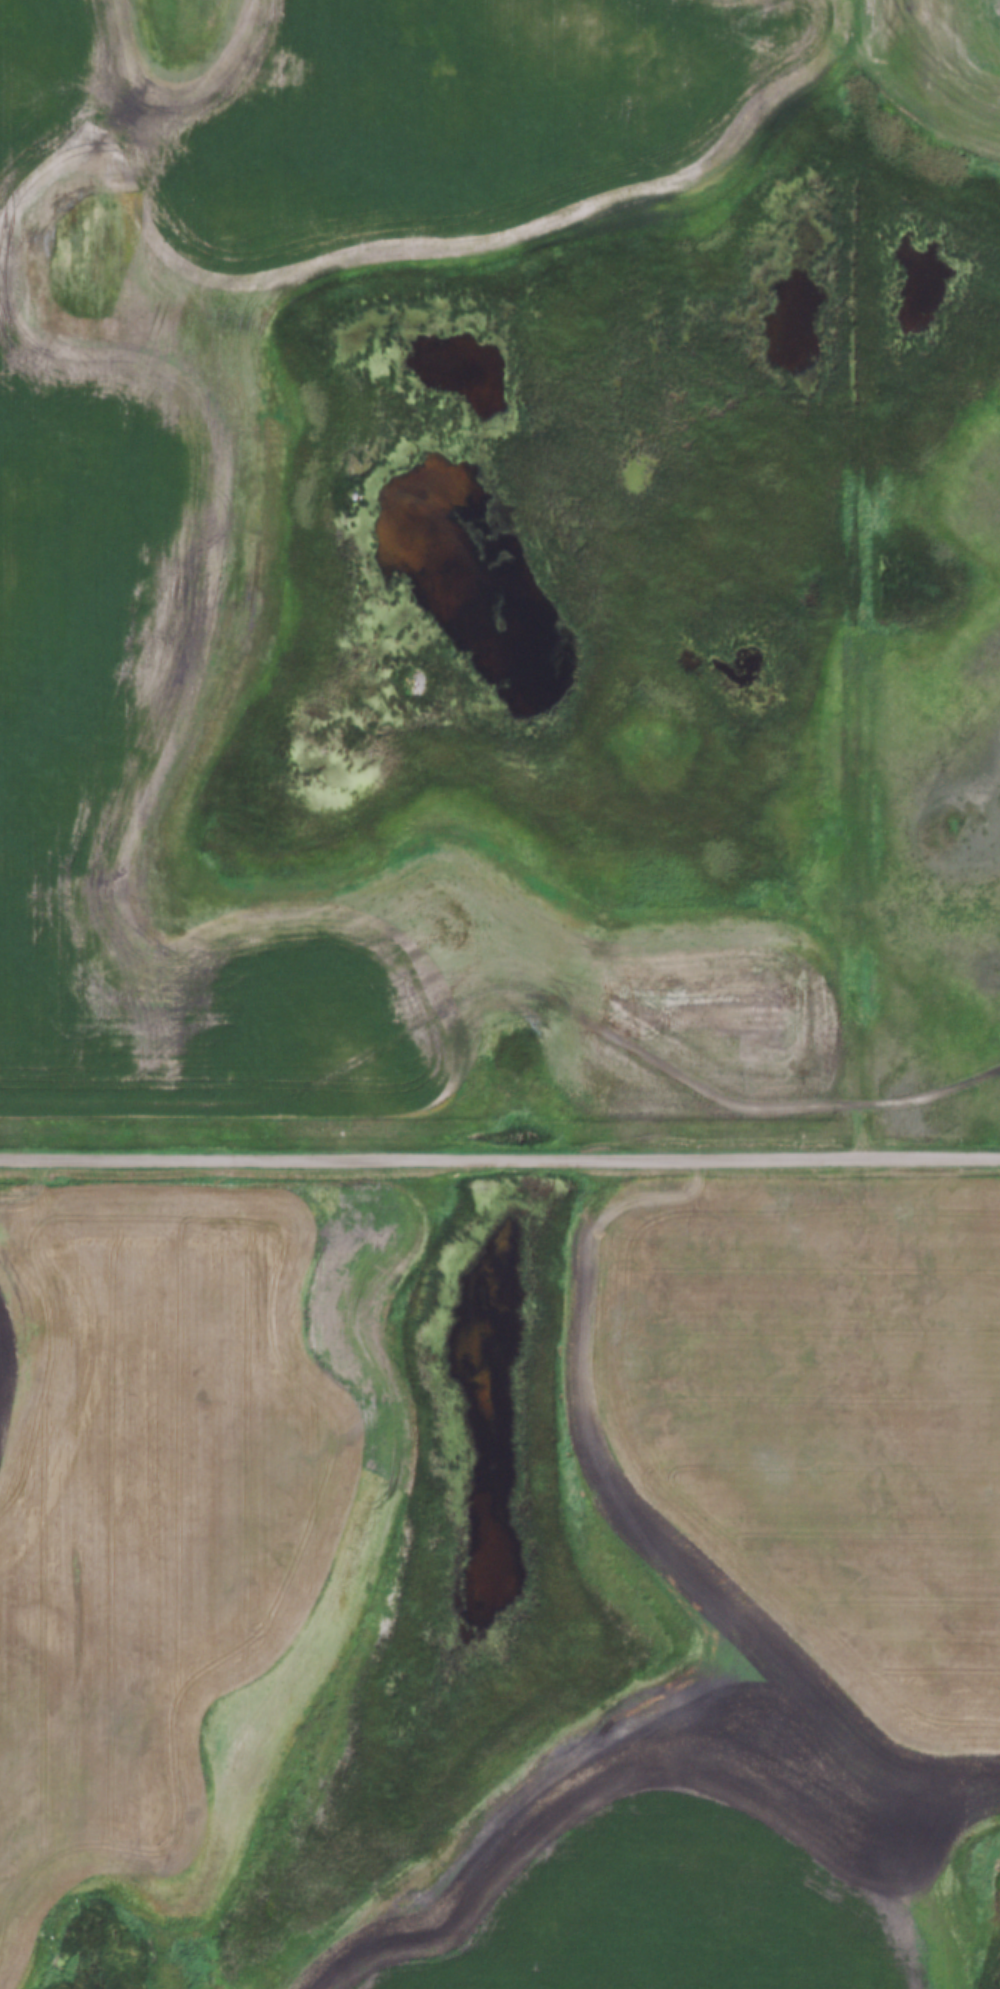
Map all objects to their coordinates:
road: (500, 1156)

